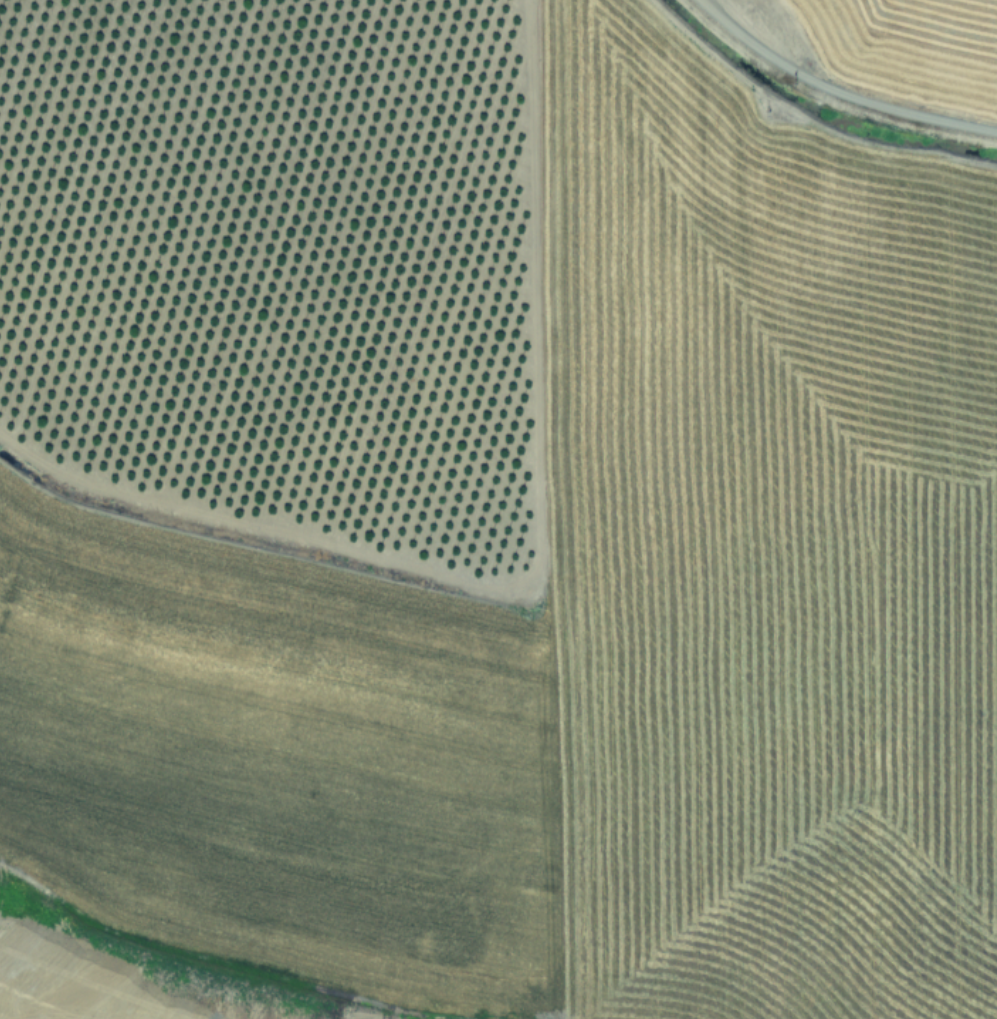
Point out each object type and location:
crop: (498, 509)

